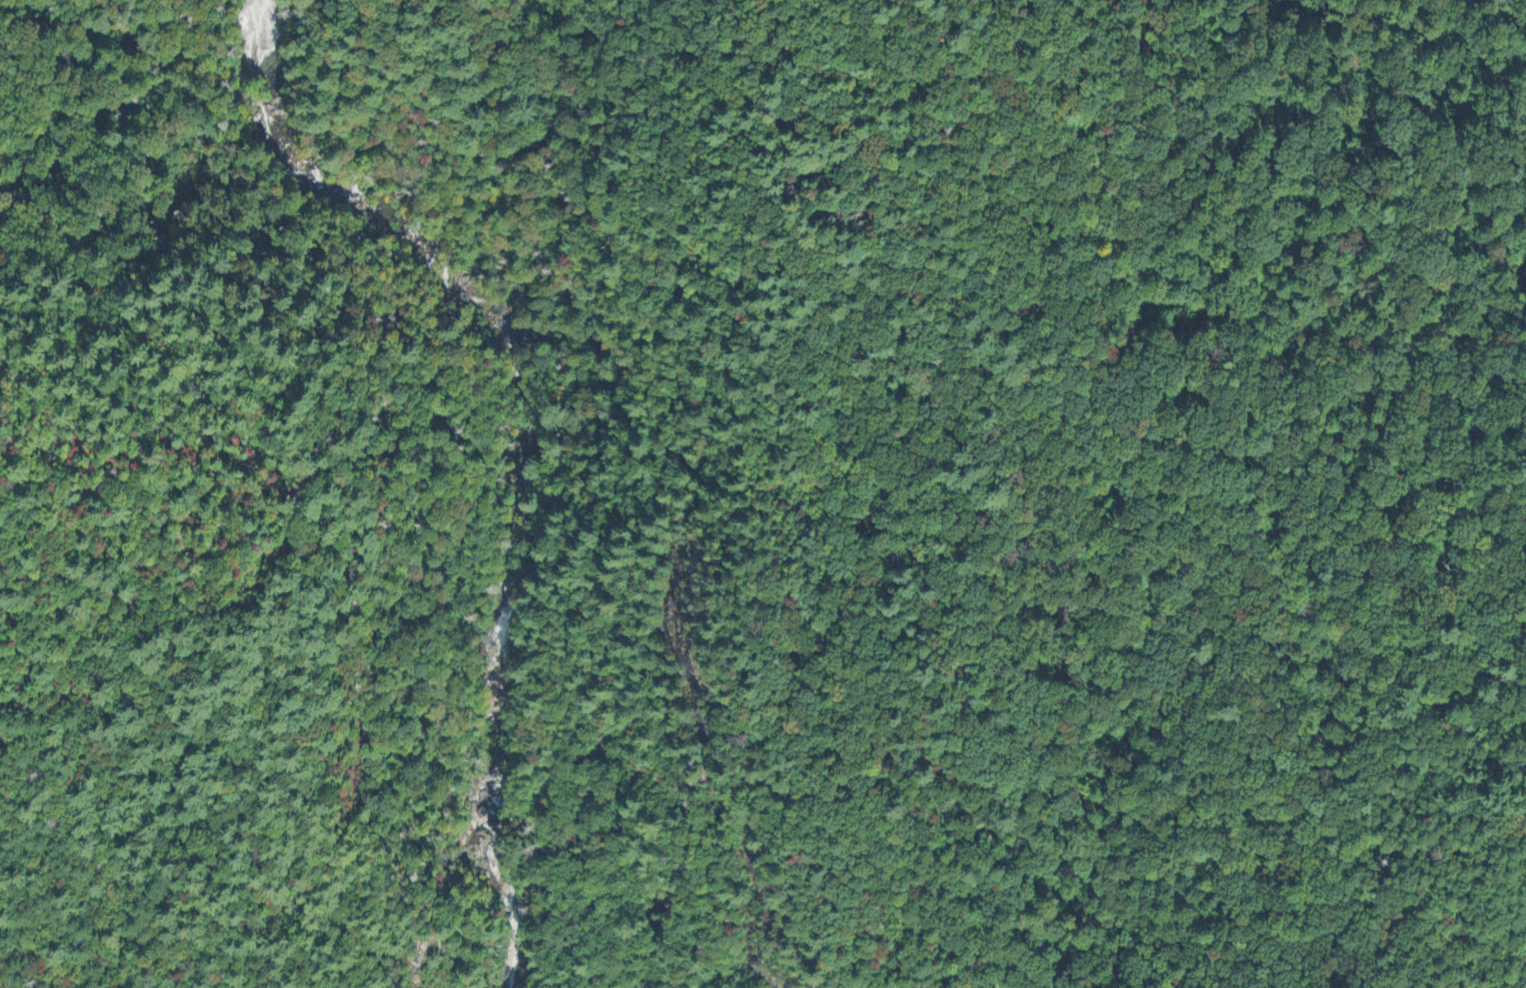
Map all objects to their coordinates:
road: (175, 195)
road: (27, 238)
river: (527, 444)
road: (306, 571)

